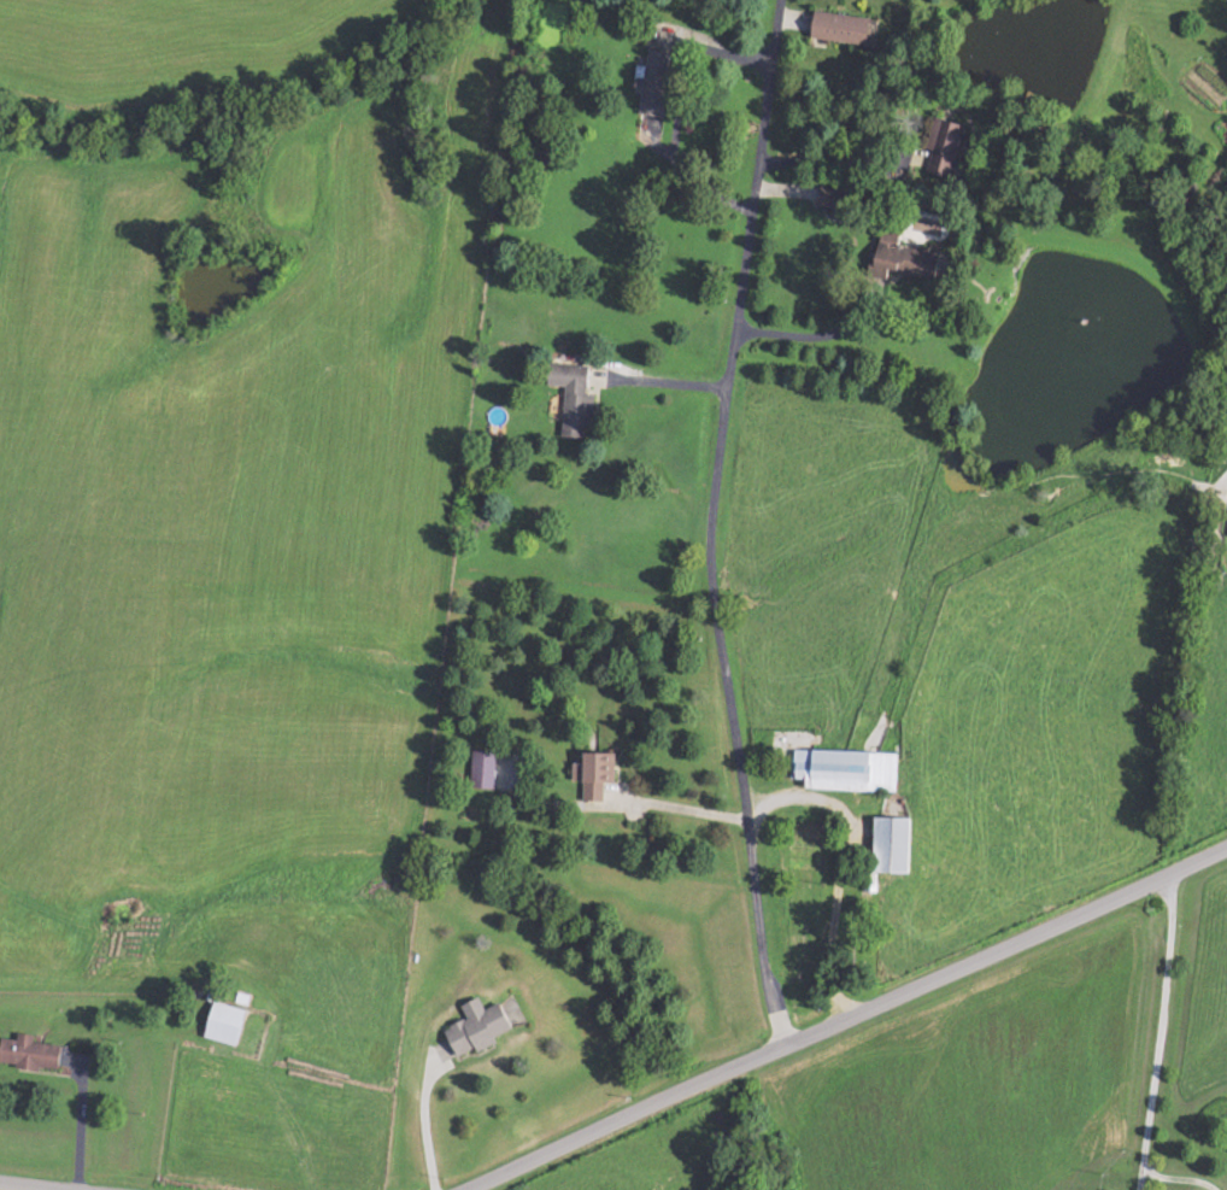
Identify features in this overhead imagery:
building: (1226, 8)
building: (846, 25)
building: (657, 81)
building: (945, 146)
building: (843, 200)
building: (911, 258)
road: (817, 335)
building: (575, 395)
road: (709, 523)
building: (485, 768)
building: (847, 769)
building: (597, 774)
road: (681, 808)
building: (897, 844)
road: (844, 1016)
building: (228, 1022)
building: (480, 1027)
road: (1156, 1032)
building: (33, 1053)
road: (31, 1186)

